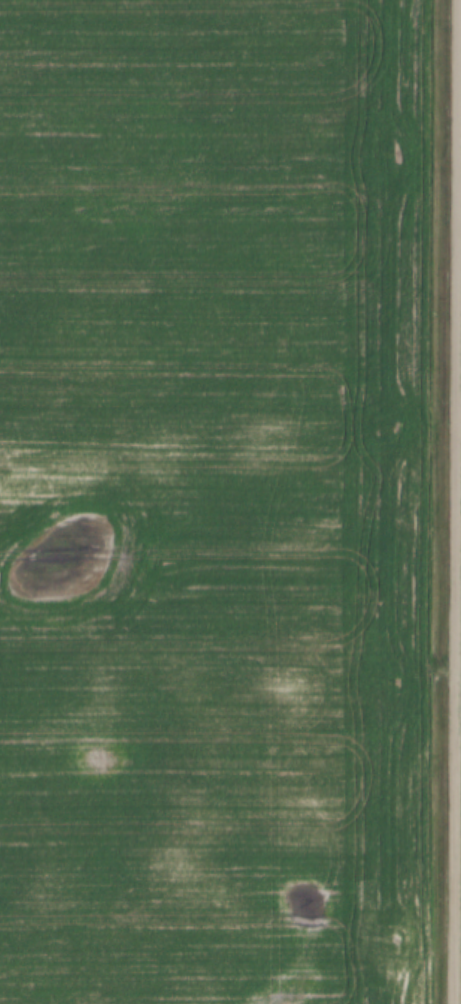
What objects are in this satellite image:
road: (453, 502)

